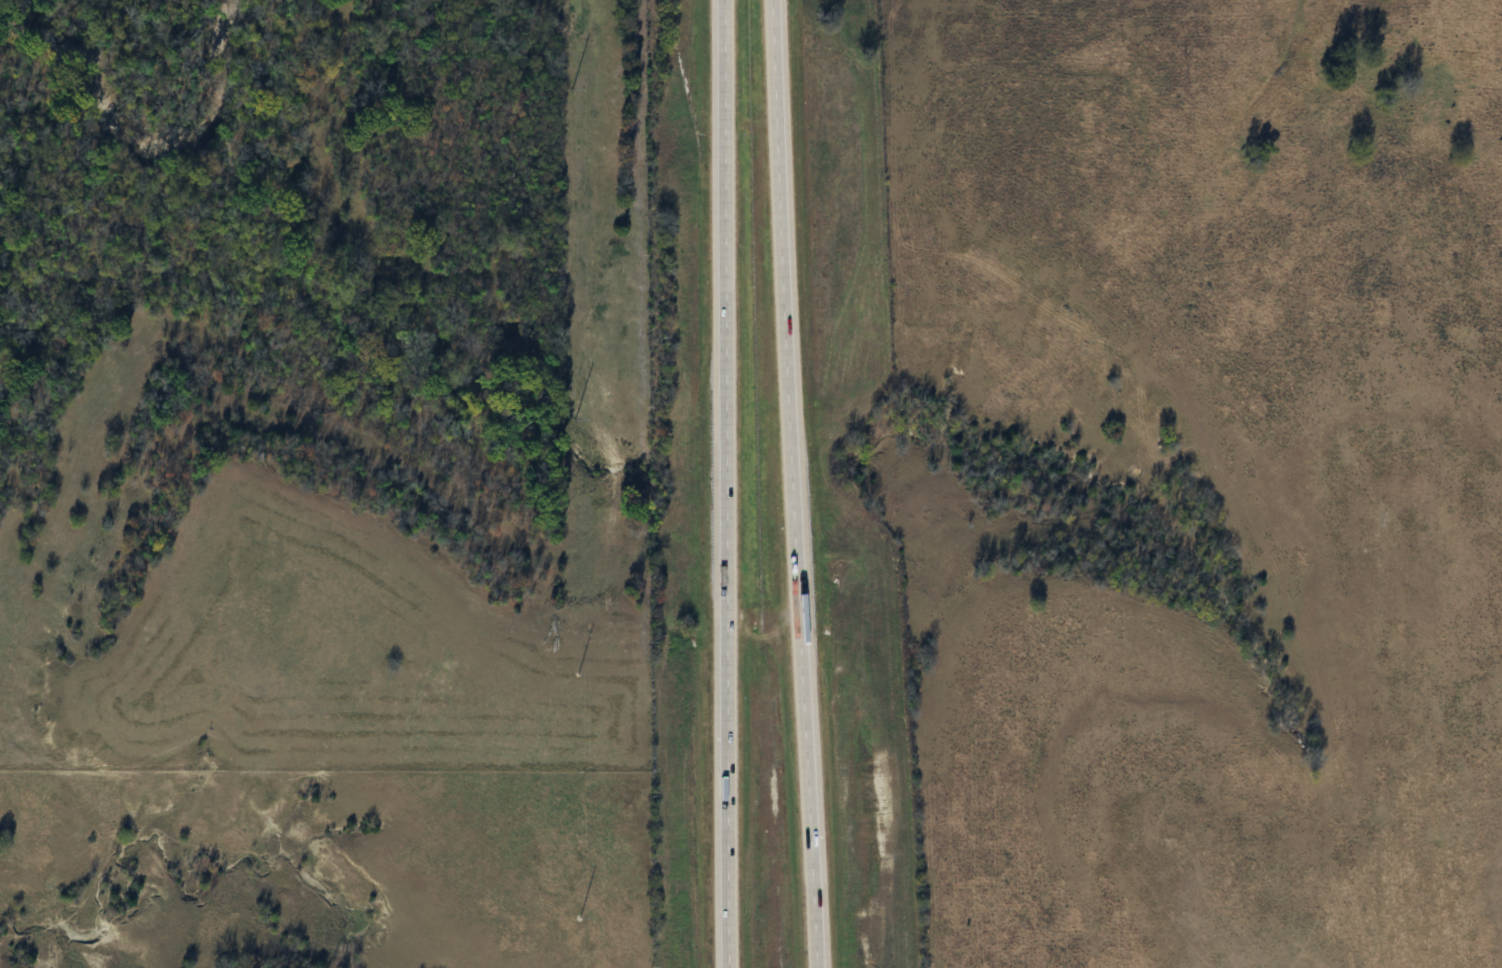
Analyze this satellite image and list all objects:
road: (713, 484)
road: (783, 484)
road: (752, 637)

